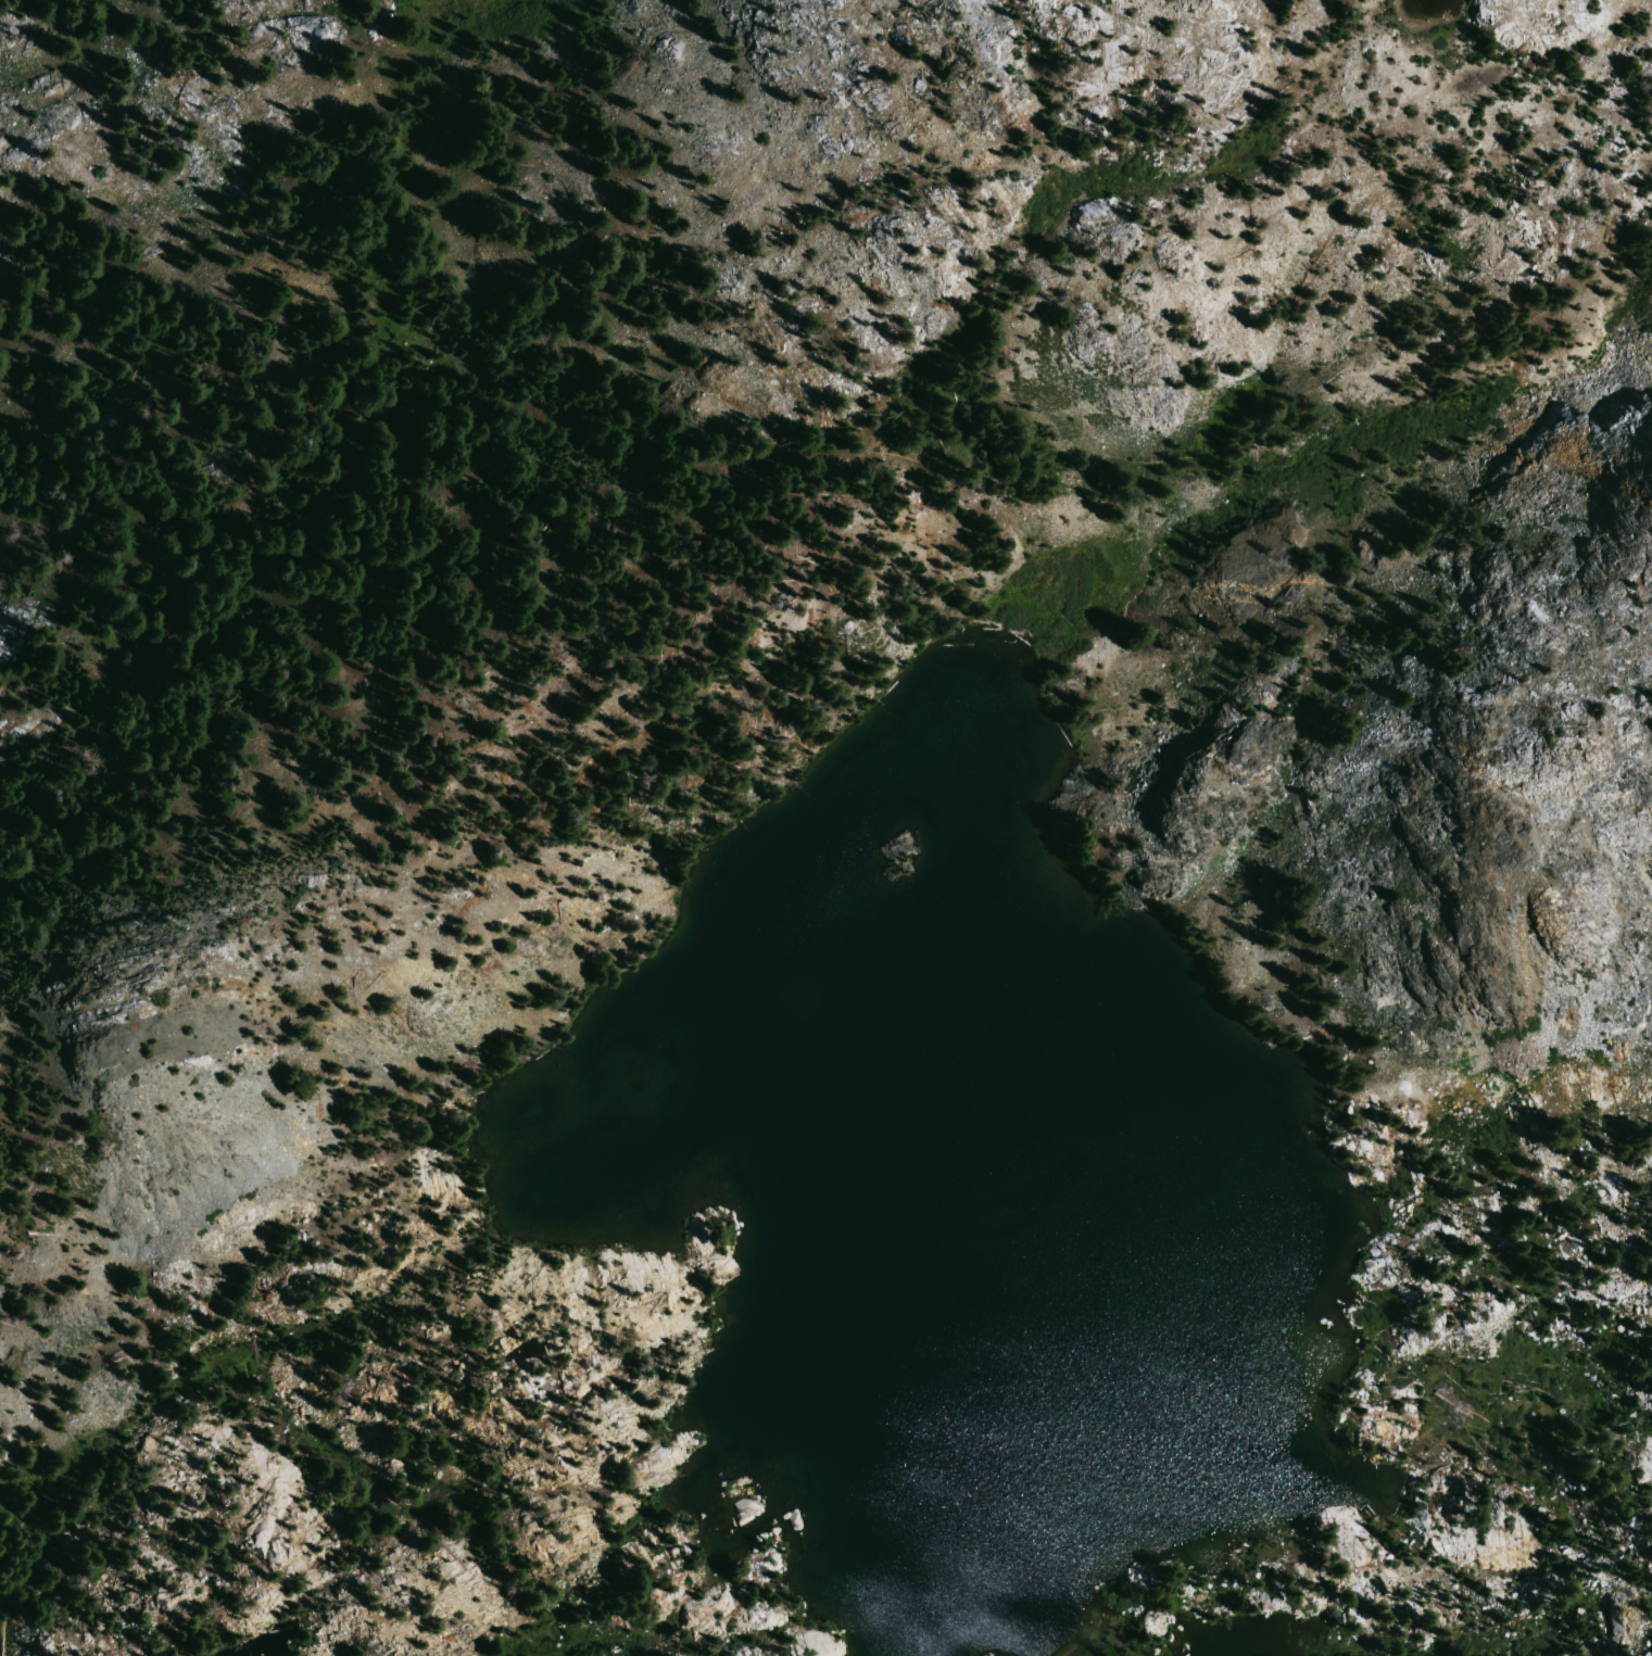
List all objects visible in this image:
road: (755, 464)
road: (1163, 644)
road: (491, 1079)

